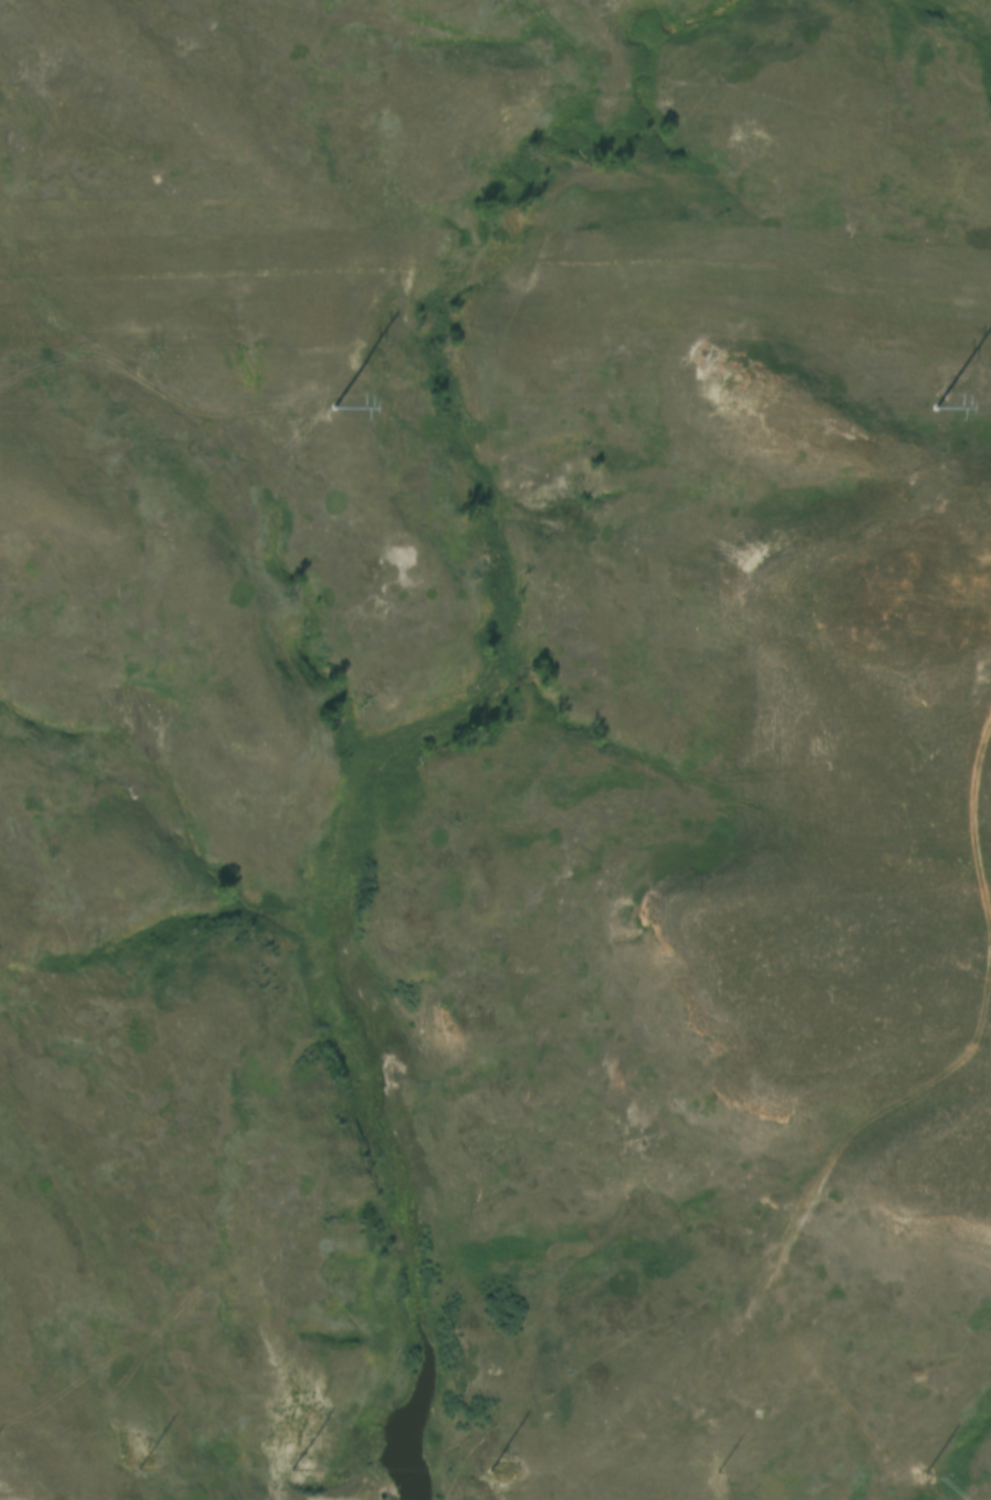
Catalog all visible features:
power tower: (334, 405)
power tower: (927, 418)
quarry: (909, 593)

